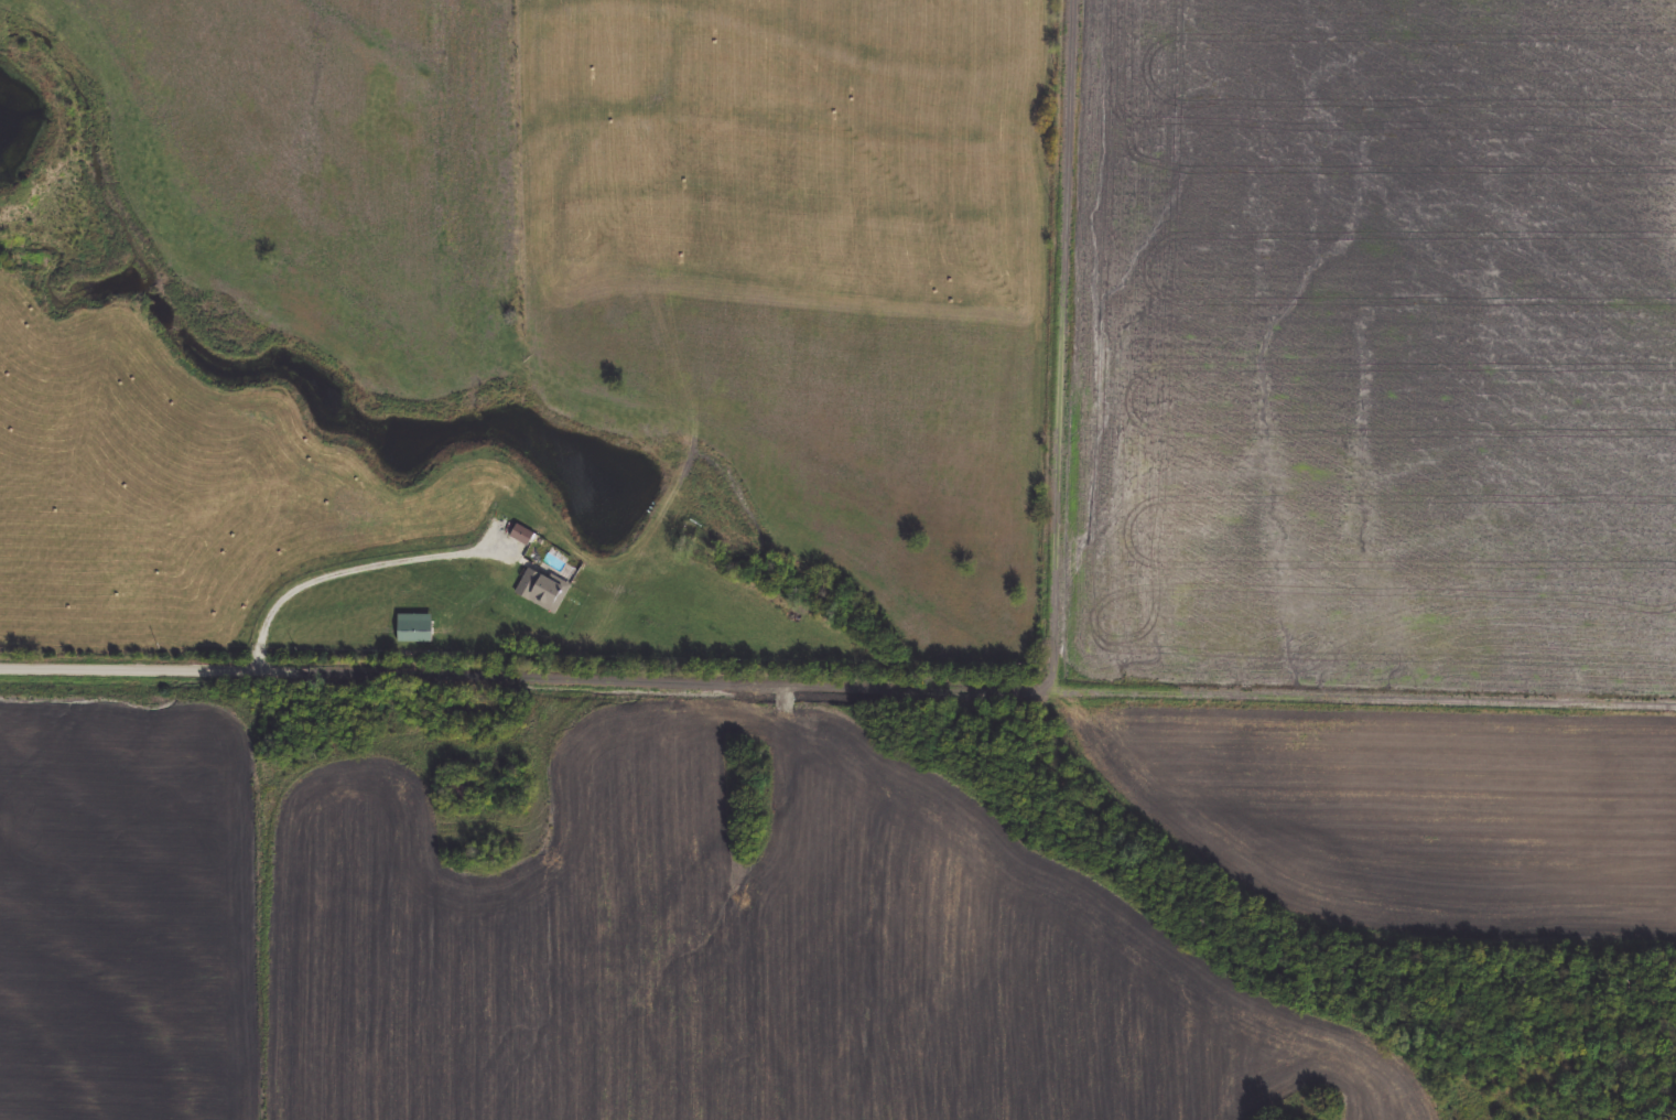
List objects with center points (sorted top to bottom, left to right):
road: (1061, 344)
building: (525, 536)
road: (348, 572)
building: (544, 591)
building: (418, 629)
road: (526, 681)
road: (1364, 694)

